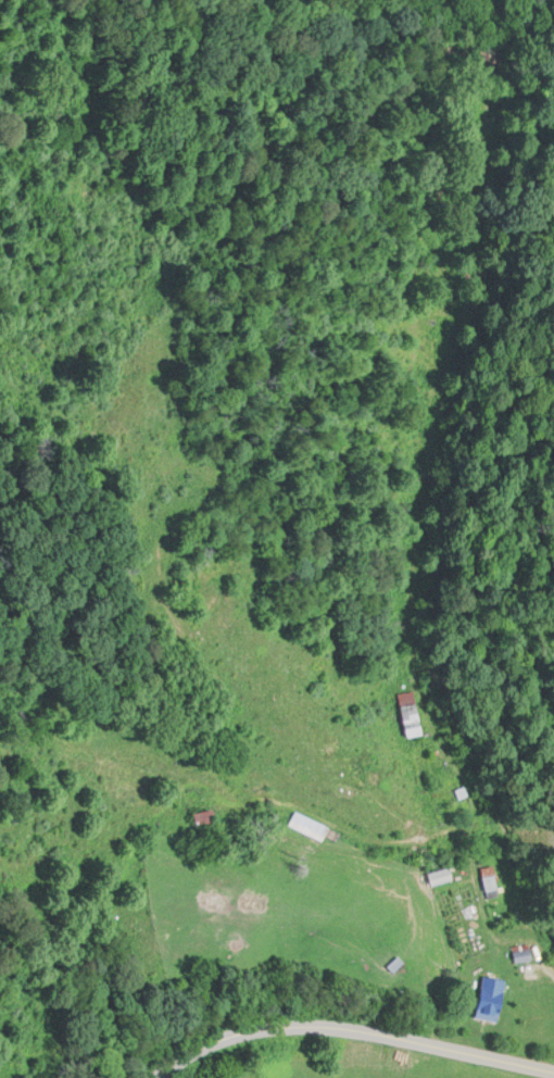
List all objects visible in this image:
building: (408, 713)
building: (202, 814)
building: (307, 823)
building: (439, 874)
building: (488, 879)
building: (520, 950)
building: (489, 995)
road: (353, 1026)

